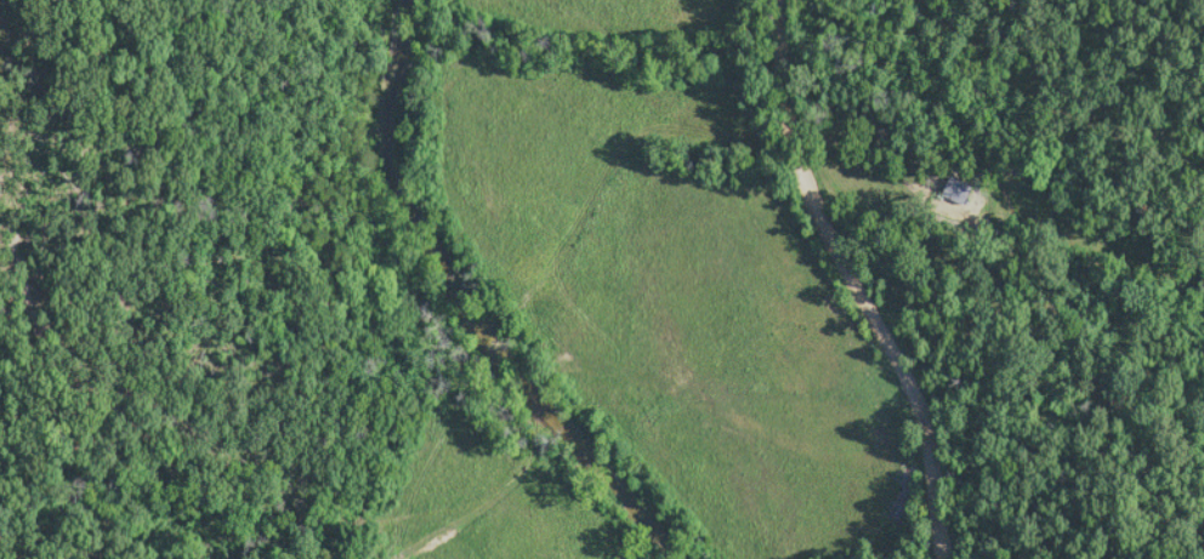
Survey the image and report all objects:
building: (956, 192)
road: (852, 280)

